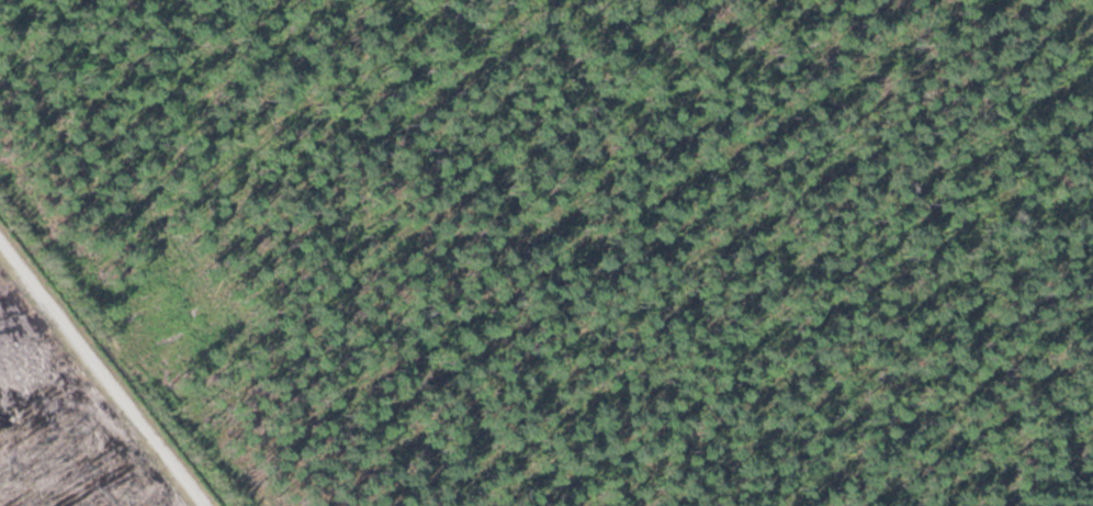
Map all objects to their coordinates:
road: (102, 372)

